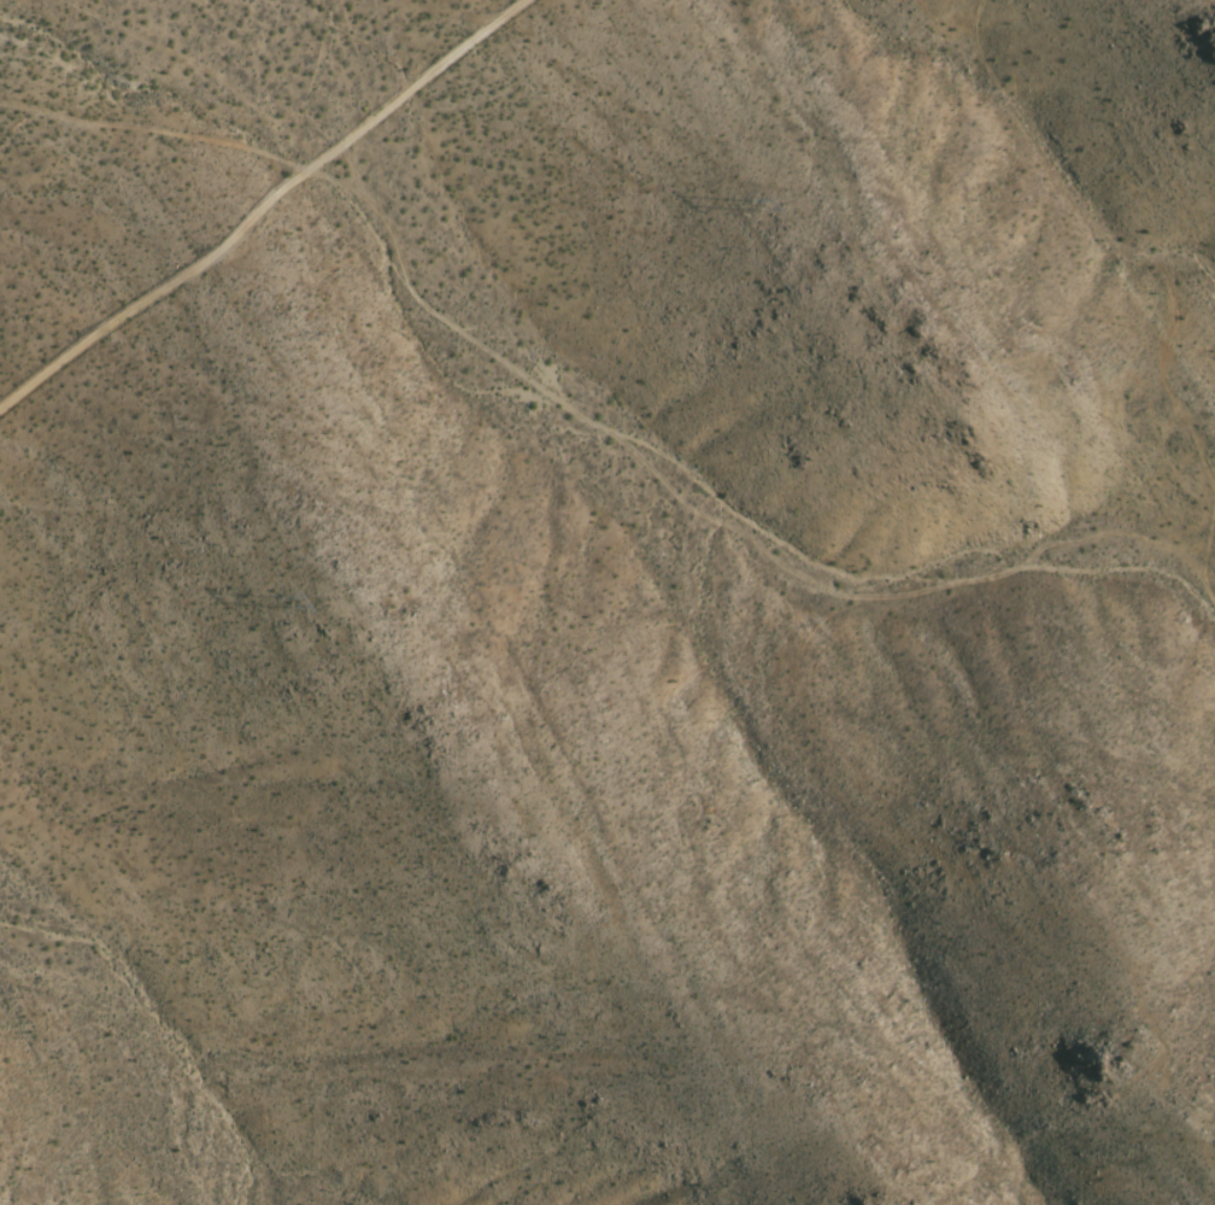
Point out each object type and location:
power tower: (761, 204)
road: (269, 211)
power tower: (292, 606)

